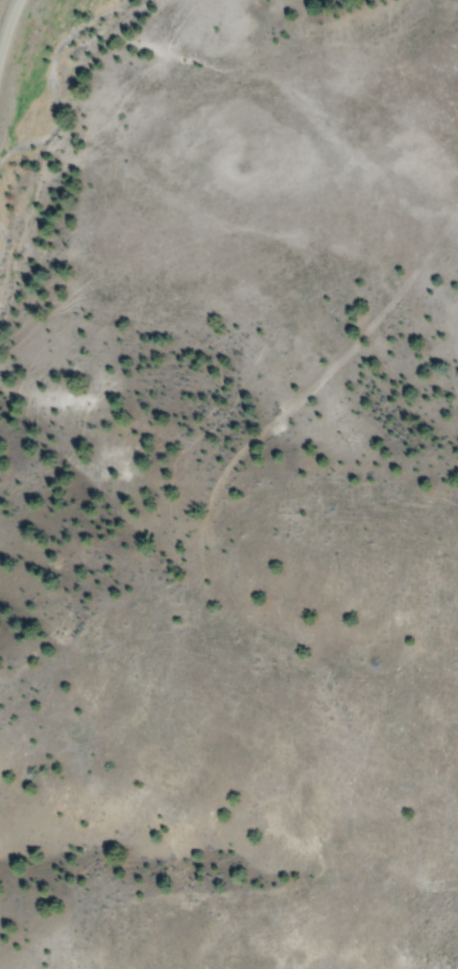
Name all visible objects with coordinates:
road: (7, 23)

